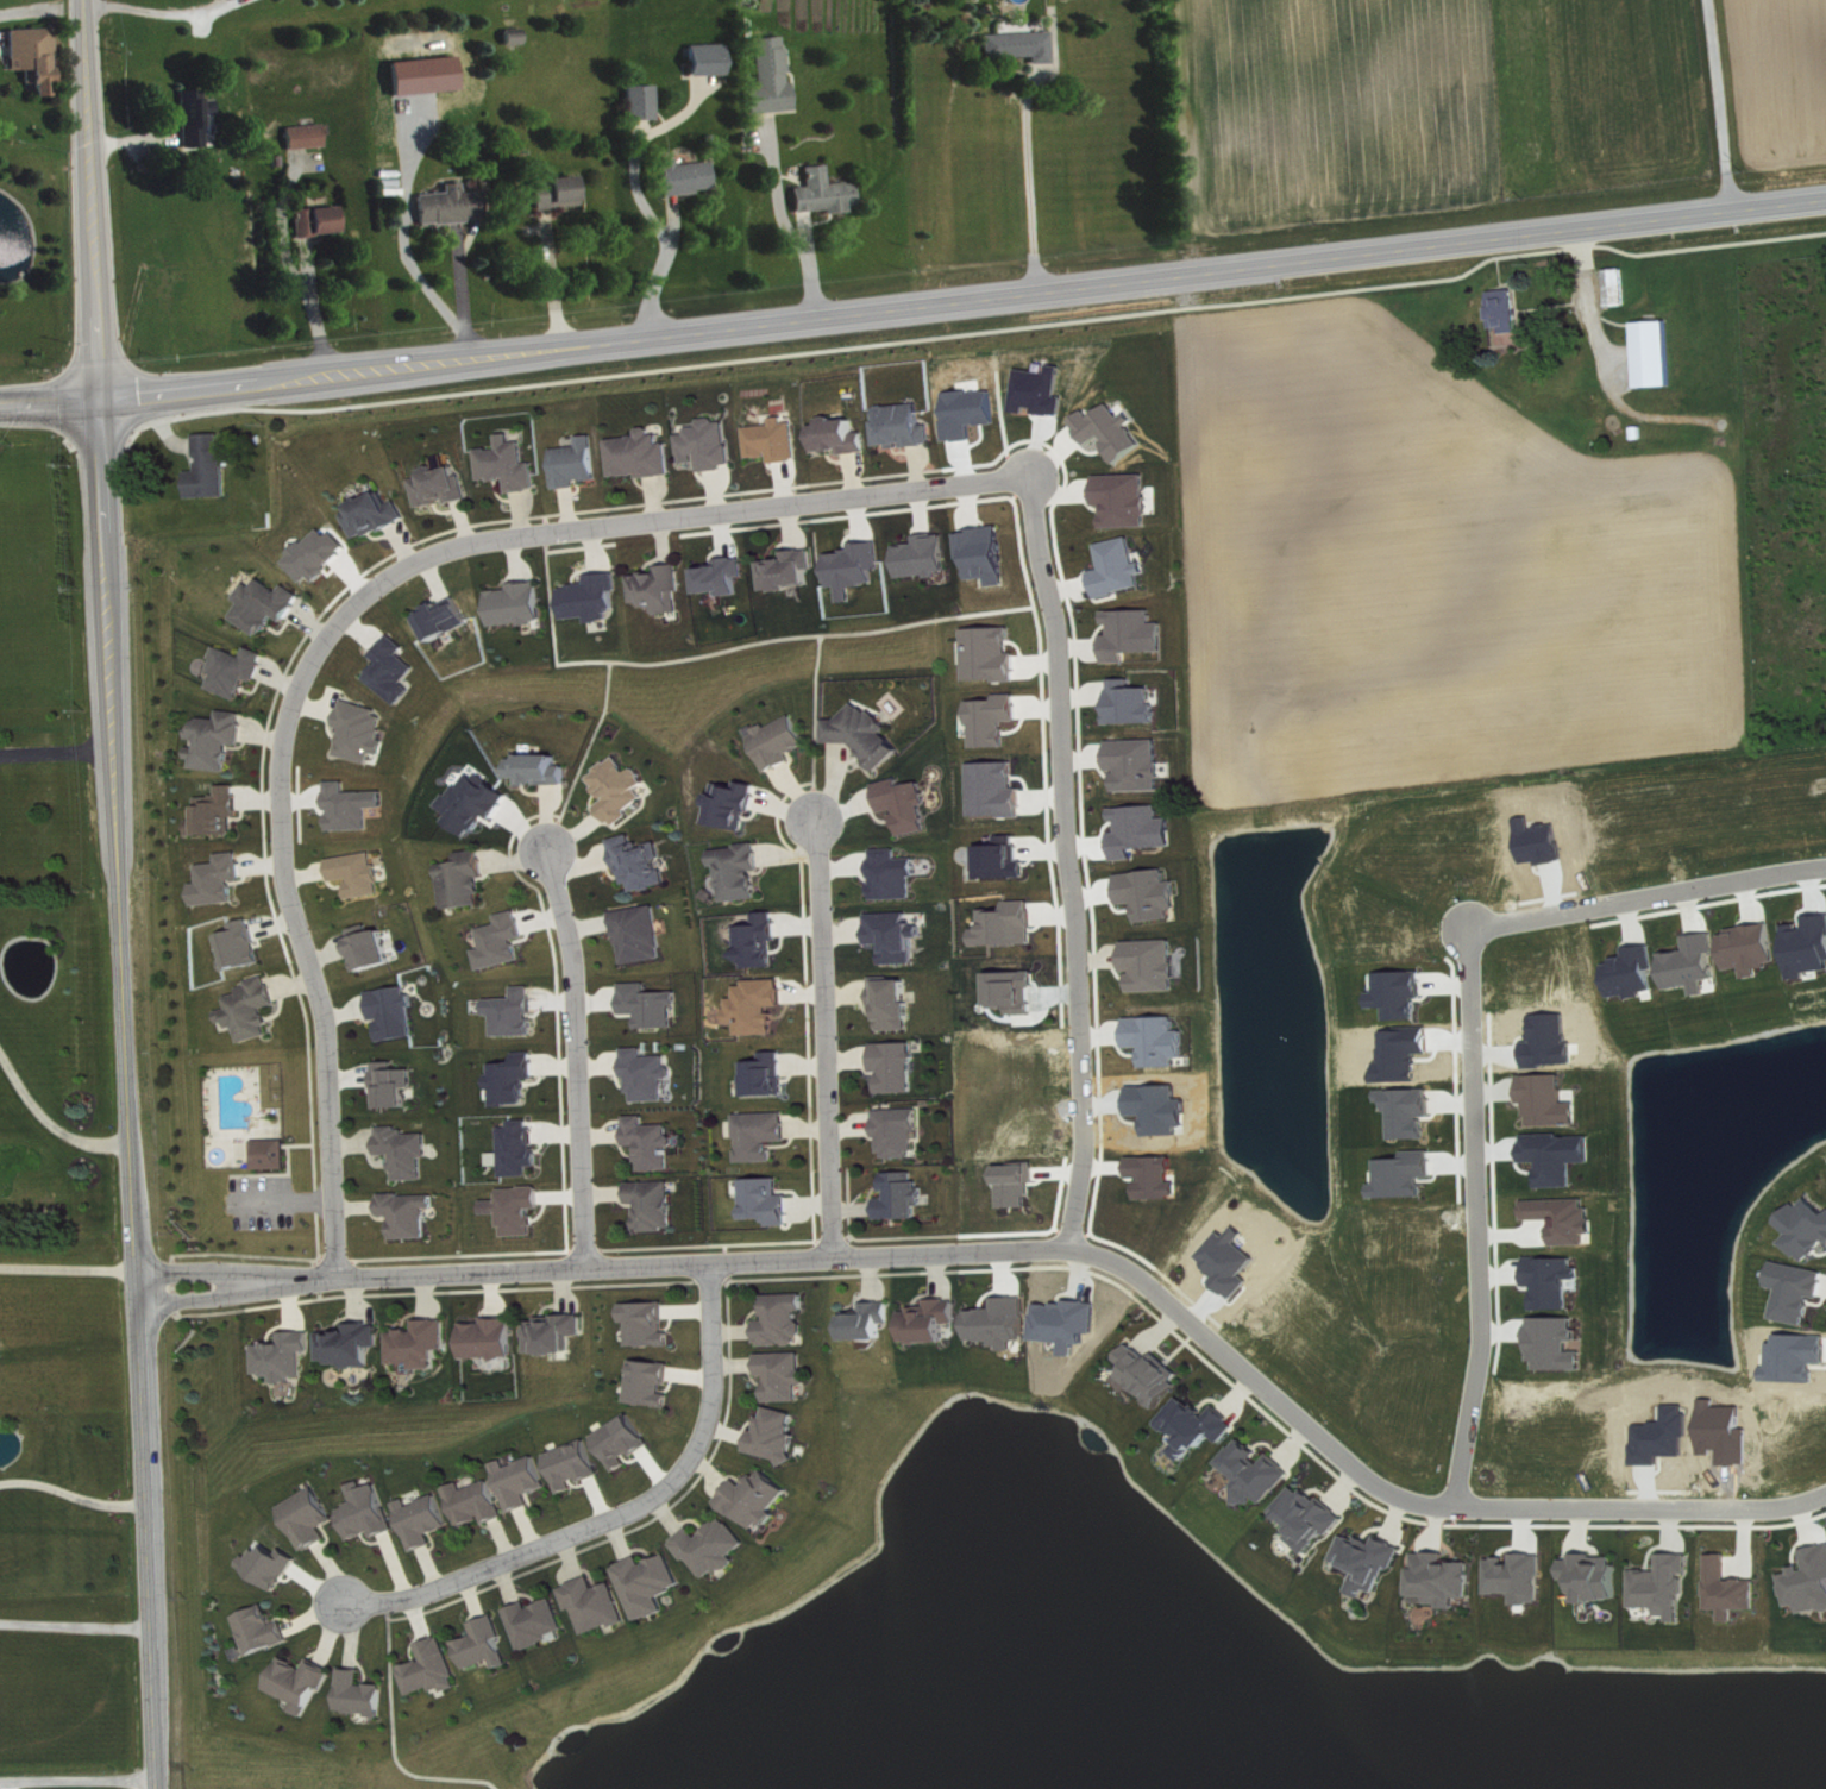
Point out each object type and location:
road: (40, 5)
road: (159, 5)
building: (1023, 46)
building: (38, 57)
building: (710, 59)
building: (774, 77)
building: (644, 102)
road: (1726, 102)
building: (196, 119)
building: (690, 176)
road: (1037, 182)
building: (560, 193)
building: (828, 193)
building: (454, 206)
building: (320, 221)
road: (791, 225)
road: (666, 271)
road: (558, 282)
building: (1620, 288)
road: (462, 291)
road: (912, 302)
building: (1510, 310)
building: (1658, 353)
building: (906, 426)
building: (1113, 431)
building: (842, 437)
building: (778, 440)
building: (713, 445)
building: (645, 456)
building: (579, 463)
building: (513, 465)
building: (213, 467)
building: (444, 485)
building: (1127, 500)
road: (699, 514)
building: (377, 515)
building: (321, 554)
building: (987, 554)
building: (925, 557)
building: (858, 567)
building: (1122, 569)
building: (792, 571)
building: (726, 576)
building: (661, 589)
building: (596, 598)
building: (521, 604)
building: (271, 605)
building: (448, 619)
road: (887, 627)
building: (1136, 634)
building: (992, 654)
road: (623, 659)
building: (397, 670)
building: (240, 671)
building: (1134, 703)
building: (996, 721)
road: (814, 722)
building: (365, 732)
building: (867, 735)
building: (221, 740)
building: (779, 742)
road: (57, 748)
road: (583, 754)
building: (1140, 765)
building: (540, 770)
building: (621, 790)
building: (477, 803)
building: (736, 804)
building: (909, 804)
building: (356, 806)
building: (221, 812)
building: (1143, 830)
road: (1078, 855)
building: (1005, 859)
building: (644, 862)
building: (742, 871)
building: (362, 873)
building: (896, 874)
building: (222, 880)
building: (468, 880)
road: (120, 893)
building: (1153, 894)
road: (295, 918)
building: (1009, 925)
building: (642, 935)
building: (899, 936)
building: (504, 941)
building: (763, 941)
building: (245, 946)
building: (375, 947)
building: (1755, 949)
building: (1155, 965)
building: (1637, 973)
building: (1016, 991)
building: (1403, 994)
building: (896, 1003)
building: (652, 1005)
building: (759, 1006)
building: (253, 1010)
building: (396, 1012)
building: (516, 1013)
road: (1475, 1035)
road: (824, 1036)
building: (1160, 1041)
road: (576, 1054)
building: (899, 1067)
building: (650, 1075)
building: (768, 1075)
building: (516, 1079)
building: (396, 1085)
building: (1554, 1100)
building: (1413, 1111)
road: (50, 1121)
building: (903, 1132)
building: (765, 1135)
building: (654, 1143)
building: (522, 1148)
building: (408, 1151)
building: (275, 1154)
building: (1563, 1156)
building: (1410, 1175)
building: (1159, 1176)
building: (906, 1197)
road: (280, 1199)
building: (771, 1201)
building: (657, 1205)
building: (522, 1210)
building: (410, 1214)
building: (1808, 1229)
road: (68, 1266)
road: (576, 1266)
building: (1800, 1292)
building: (787, 1320)
building: (876, 1322)
building: (936, 1322)
building: (1005, 1323)
building: (651, 1324)
building: (558, 1333)
building: (492, 1339)
building: (425, 1344)
building: (356, 1345)
building: (287, 1357)
building: (789, 1375)
building: (1154, 1375)
building: (654, 1383)
building: (1201, 1426)
building: (780, 1436)
building: (628, 1442)
building: (578, 1465)
building: (1261, 1473)
building: (526, 1482)
road: (1381, 1483)
road: (73, 1493)
building: (761, 1500)
building: (481, 1504)
building: (372, 1512)
road: (620, 1513)
building: (314, 1518)
building: (1312, 1518)
building: (428, 1520)
building: (719, 1548)
building: (1374, 1562)
building: (276, 1565)
building: (1523, 1577)
building: (1600, 1577)
building: (1448, 1580)
building: (1809, 1583)
building: (655, 1584)
building: (1668, 1587)
building: (1734, 1589)
building: (601, 1605)
building: (544, 1622)
road: (75, 1624)
building: (266, 1631)
building: (491, 1645)
building: (438, 1669)
building: (306, 1683)
building: (366, 1695)
road: (396, 1733)
road: (77, 1777)

